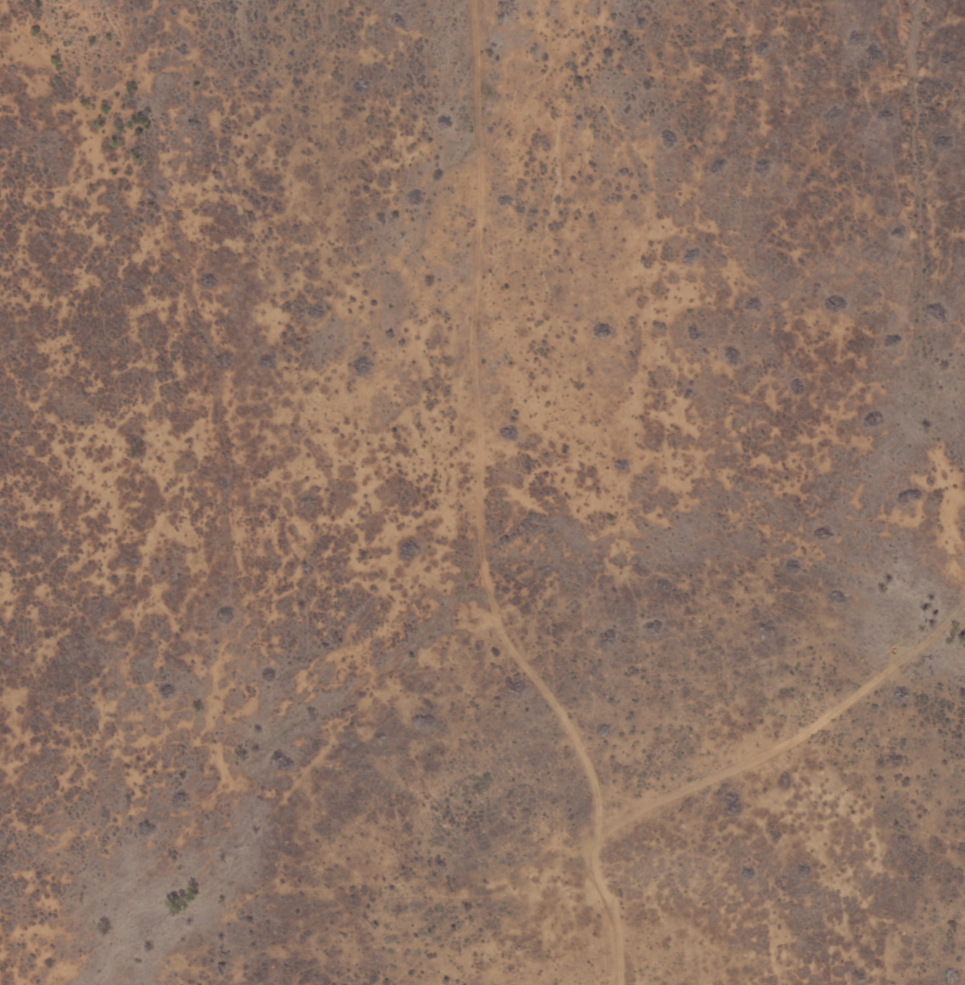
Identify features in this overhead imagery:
road: (720, 757)

